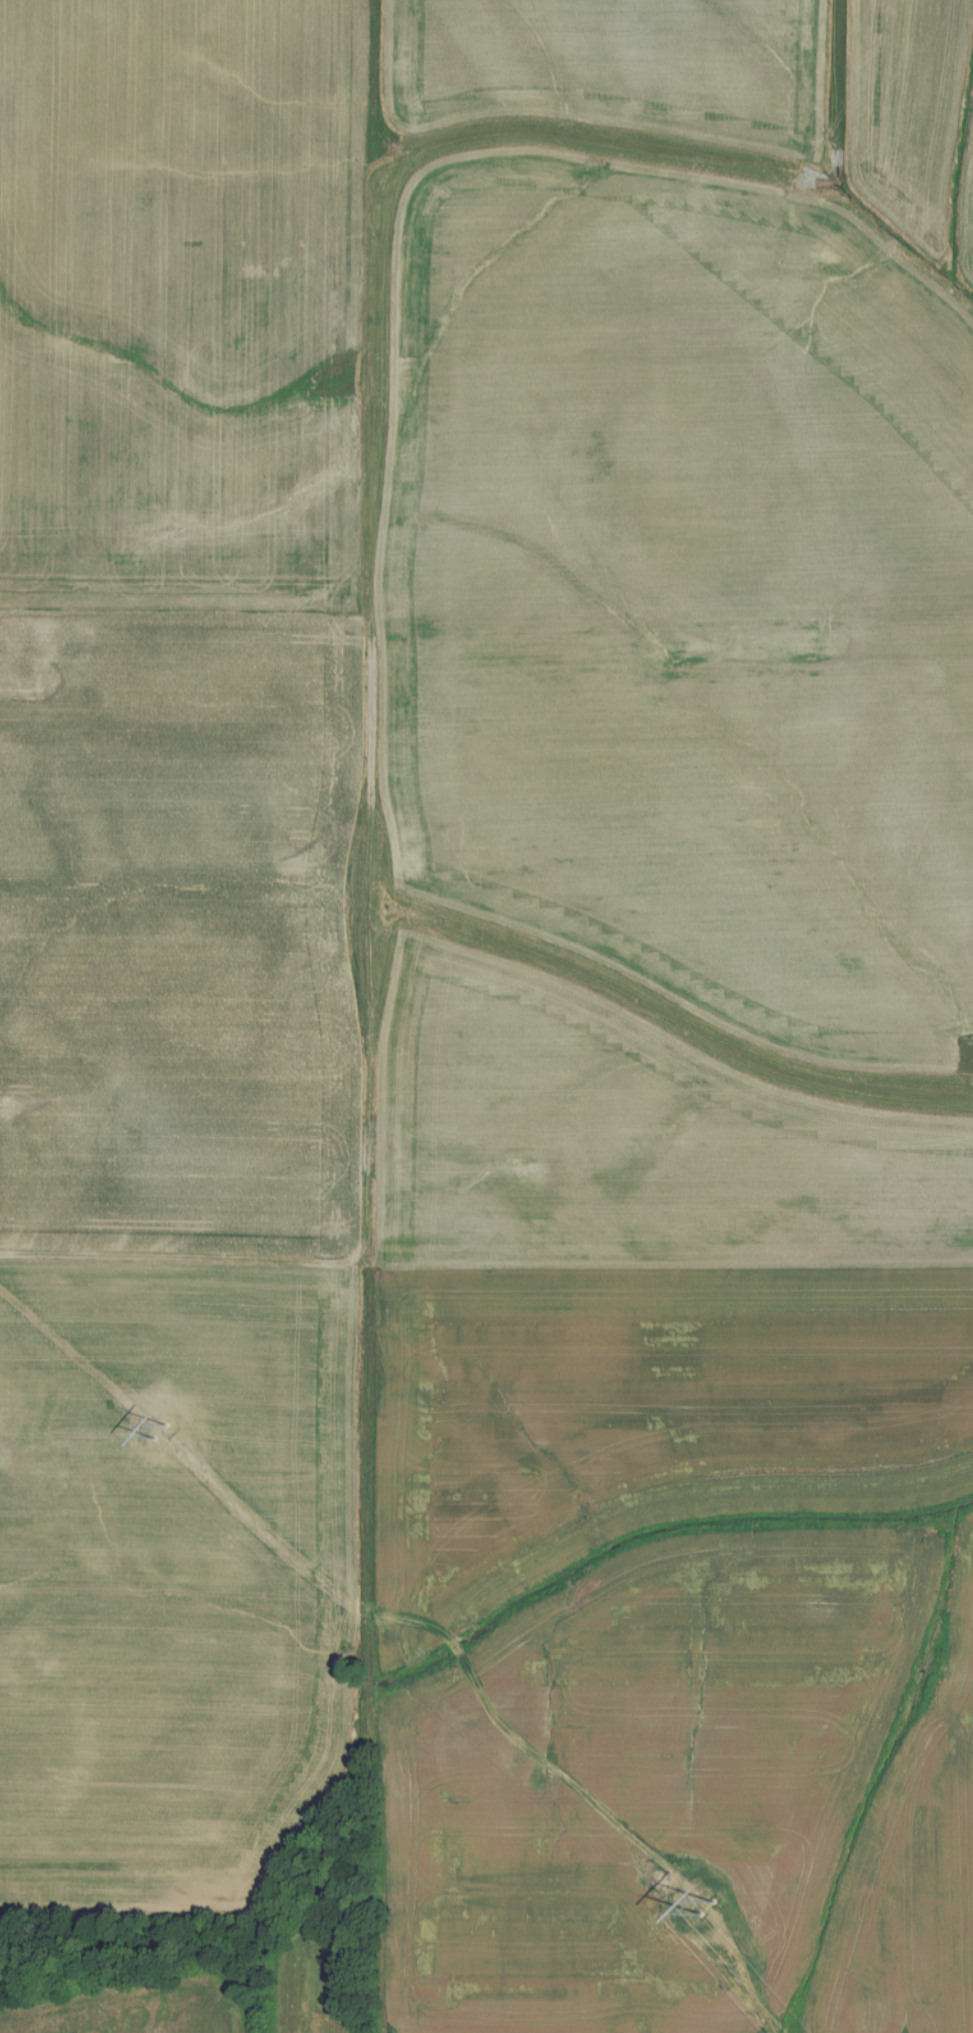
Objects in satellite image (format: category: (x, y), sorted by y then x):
power tower: (161, 1434)
power tower: (706, 1916)

